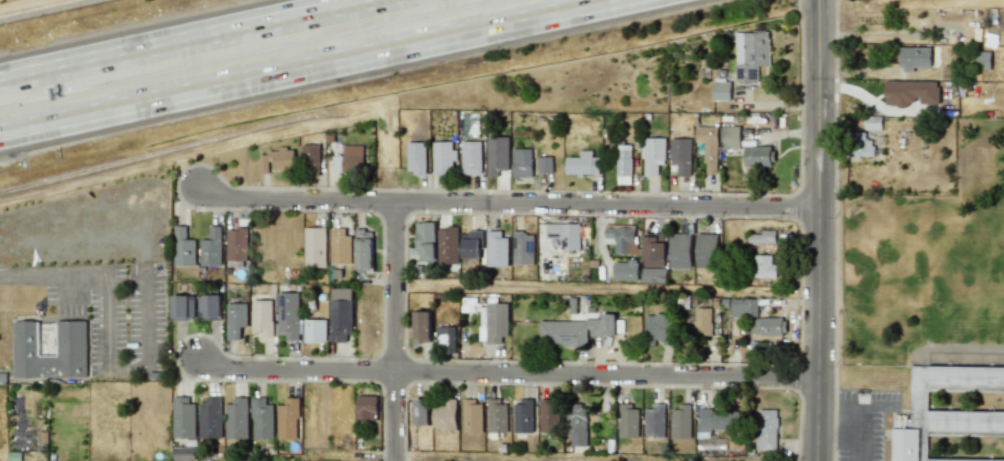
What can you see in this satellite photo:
road: (182, 39)
building: (750, 55)
building: (915, 59)
building: (981, 59)
road: (325, 68)
building: (721, 91)
building: (910, 92)
building: (873, 122)
building: (731, 137)
building: (859, 144)
building: (707, 147)
building: (497, 155)
building: (652, 155)
building: (680, 155)
building: (759, 156)
building: (443, 157)
building: (416, 158)
building: (471, 158)
building: (277, 160)
building: (310, 160)
building: (521, 163)
building: (545, 164)
building: (582, 164)
building: (623, 164)
road: (296, 200)
road: (606, 207)
road: (816, 230)
building: (565, 235)
building: (764, 237)
building: (620, 238)
building: (425, 241)
building: (236, 244)
building: (447, 245)
building: (183, 247)
building: (314, 247)
building: (340, 247)
building: (471, 247)
building: (211, 248)
building: (497, 248)
building: (523, 248)
building: (364, 250)
building: (653, 250)
building: (706, 250)
building: (680, 251)
building: (764, 266)
building: (625, 270)
road: (89, 273)
road: (35, 274)
road: (127, 278)
road: (70, 285)
road: (605, 291)
building: (183, 307)
building: (208, 307)
building: (340, 314)
building: (289, 316)
building: (262, 317)
building: (756, 318)
road: (107, 320)
building: (235, 320)
building: (702, 321)
road: (146, 323)
building: (421, 326)
building: (657, 329)
building: (314, 330)
building: (577, 330)
road: (394, 332)
building: (71, 339)
building: (446, 339)
road: (126, 367)
road: (505, 373)
road: (873, 406)
building: (366, 408)
building: (421, 412)
building: (444, 414)
building: (548, 415)
building: (957, 415)
building: (472, 416)
building: (496, 416)
building: (523, 416)
building: (183, 418)
building: (209, 418)
building: (236, 418)
building: (262, 418)
building: (287, 419)
building: (628, 421)
building: (654, 421)
road: (856, 421)
building: (680, 422)
building: (712, 422)
building: (576, 424)
building: (766, 429)
road: (835, 435)
road: (856, 448)
road: (469, 458)

